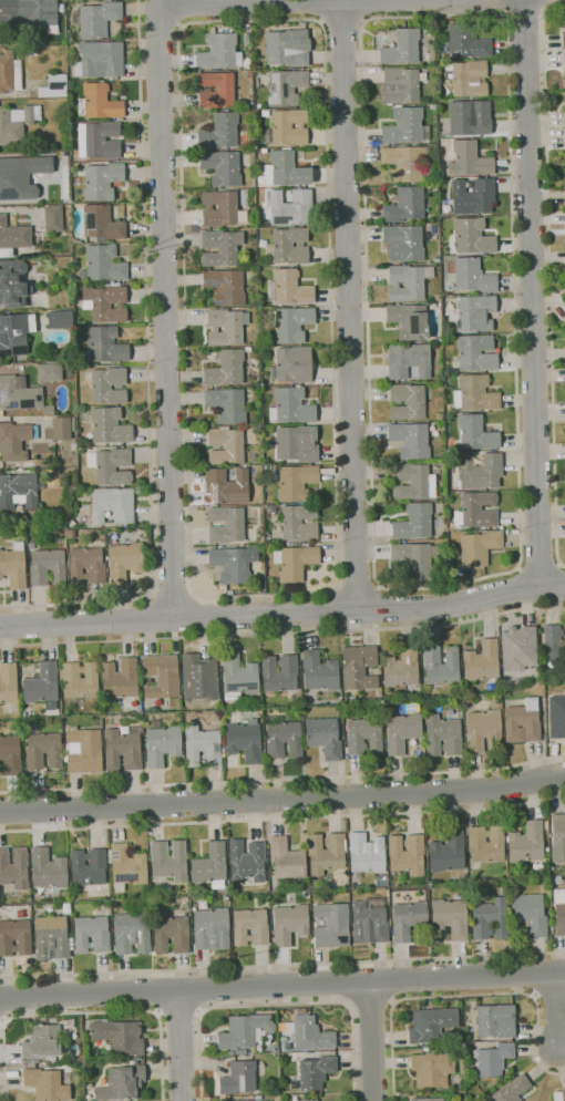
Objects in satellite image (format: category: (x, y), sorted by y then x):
road: (248, 2)
building: (32, 12)
road: (179, 12)
road: (523, 17)
building: (99, 19)
building: (563, 20)
road: (342, 22)
building: (563, 40)
building: (468, 42)
building: (288, 48)
building: (402, 48)
building: (219, 52)
building: (100, 60)
building: (564, 68)
building: (10, 72)
building: (249, 74)
building: (468, 78)
building: (54, 86)
building: (399, 86)
building: (288, 88)
building: (216, 90)
building: (99, 102)
building: (259, 105)
building: (564, 109)
building: (265, 113)
building: (470, 117)
building: (17, 123)
building: (405, 126)
building: (288, 127)
building: (219, 132)
building: (99, 140)
building: (265, 151)
building: (469, 160)
building: (404, 162)
building: (222, 167)
building: (285, 169)
building: (21, 176)
building: (102, 181)
building: (564, 195)
building: (473, 196)
building: (405, 206)
building: (219, 208)
building: (291, 208)
building: (564, 212)
building: (53, 217)
building: (264, 223)
building: (102, 224)
building: (564, 234)
building: (473, 236)
building: (13, 239)
building: (75, 240)
building: (403, 243)
building: (65, 245)
building: (288, 247)
building: (220, 248)
building: (63, 264)
building: (103, 264)
building: (471, 276)
road: (549, 276)
building: (75, 281)
building: (408, 282)
building: (13, 284)
building: (115, 284)
building: (226, 287)
building: (288, 288)
road: (534, 292)
building: (438, 297)
building: (105, 303)
road: (347, 306)
road: (166, 307)
building: (475, 313)
building: (60, 319)
building: (409, 321)
building: (290, 323)
building: (226, 327)
building: (13, 335)
building: (105, 344)
building: (475, 352)
building: (409, 360)
building: (292, 364)
building: (226, 369)
building: (49, 372)
road: (148, 373)
building: (109, 385)
building: (19, 393)
building: (475, 393)
building: (407, 402)
building: (227, 404)
building: (291, 407)
building: (49, 410)
building: (440, 415)
building: (110, 425)
building: (62, 428)
building: (476, 433)
building: (410, 440)
building: (16, 441)
building: (297, 443)
building: (226, 445)
building: (73, 446)
building: (111, 466)
building: (481, 471)
building: (48, 475)
building: (296, 482)
building: (413, 482)
building: (227, 486)
building: (18, 491)
building: (112, 505)
building: (476, 510)
building: (414, 522)
building: (299, 523)
building: (226, 525)
building: (479, 548)
building: (417, 559)
building: (124, 562)
building: (295, 562)
building: (234, 564)
road: (538, 565)
building: (13, 566)
building: (86, 566)
building: (47, 567)
road: (513, 570)
road: (557, 586)
road: (333, 587)
road: (357, 587)
road: (523, 588)
road: (173, 595)
road: (379, 607)
road: (341, 608)
road: (284, 614)
road: (194, 615)
road: (153, 618)
road: (282, 632)
building: (554, 642)
building: (518, 647)
building: (481, 661)
building: (441, 665)
building: (358, 667)
building: (401, 668)
building: (319, 671)
building: (218, 672)
building: (280, 673)
building: (161, 676)
building: (238, 676)
building: (199, 677)
building: (80, 679)
building: (120, 679)
building: (8, 682)
building: (42, 686)
building: (352, 698)
building: (556, 717)
building: (523, 722)
building: (482, 729)
building: (401, 731)
building: (442, 735)
building: (323, 737)
building: (363, 737)
building: (282, 739)
building: (244, 741)
building: (162, 743)
building: (202, 747)
building: (123, 749)
building: (83, 750)
building: (43, 751)
building: (11, 754)
road: (282, 780)
road: (282, 799)
road: (282, 820)
building: (557, 837)
building: (526, 843)
building: (486, 844)
building: (326, 853)
building: (366, 854)
building: (408, 854)
building: (448, 854)
building: (287, 858)
building: (168, 860)
building: (247, 861)
building: (89, 866)
building: (127, 866)
building: (210, 866)
building: (14, 868)
building: (49, 868)
building: (327, 894)
building: (559, 910)
building: (528, 913)
building: (20, 914)
building: (450, 918)
building: (408, 919)
building: (490, 919)
building: (290, 924)
building: (369, 924)
building: (331, 925)
building: (250, 927)
building: (212, 928)
building: (132, 933)
building: (92, 934)
building: (171, 934)
building: (16, 937)
building: (51, 937)
road: (282, 966)
road: (392, 980)
road: (350, 984)
road: (282, 985)
road: (158, 990)
road: (197, 990)
road: (462, 996)
road: (3, 999)
road: (279, 1004)
road: (371, 1004)
building: (300, 1010)
road: (557, 1010)
road: (85, 1012)
road: (179, 1012)
road: (3, 1020)
building: (496, 1020)
building: (431, 1025)
building: (244, 1030)
building: (309, 1033)
building: (119, 1036)
road: (372, 1040)
building: (42, 1042)
road: (181, 1045)
building: (286, 1046)
building: (276, 1049)
building: (424, 1049)
building: (240, 1051)
building: (230, 1052)
building: (493, 1060)
building: (432, 1069)
building: (316, 1071)
building: (238, 1078)
building: (122, 1083)
building: (47, 1084)
building: (512, 1089)
building: (302, 1094)
building: (558, 1095)
building: (258, 1097)
building: (295, 1097)
building: (429, 1099)
building: (249, 1100)

